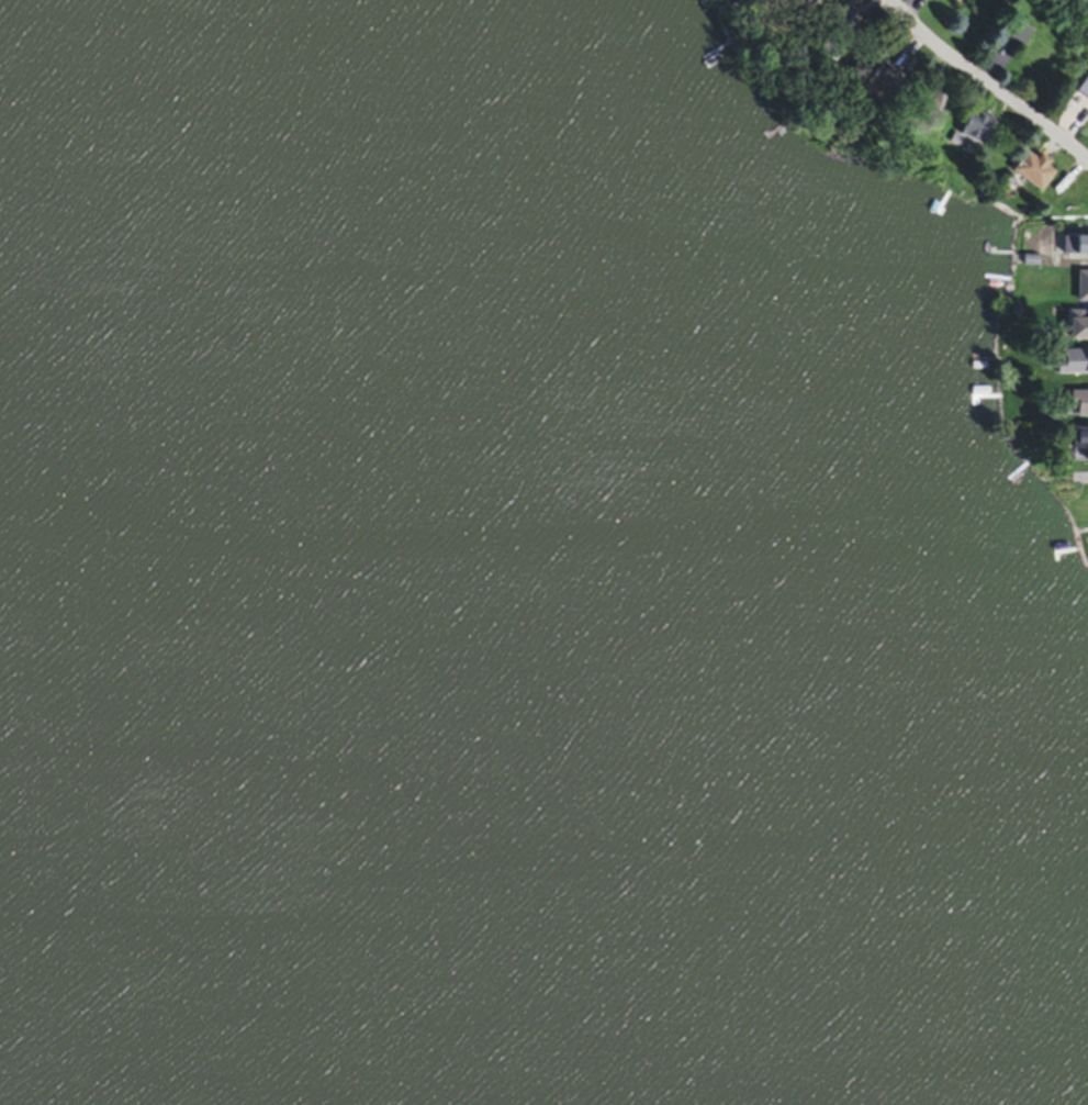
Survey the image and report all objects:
building: (920, 1)
building: (837, 21)
building: (1007, 33)
building: (877, 80)
road: (986, 82)
building: (1083, 90)
building: (974, 129)
building: (1031, 172)
building: (1075, 245)
building: (1078, 289)
building: (1075, 326)
building: (1067, 368)
building: (1076, 405)
building: (1079, 444)
river: (164, 805)

